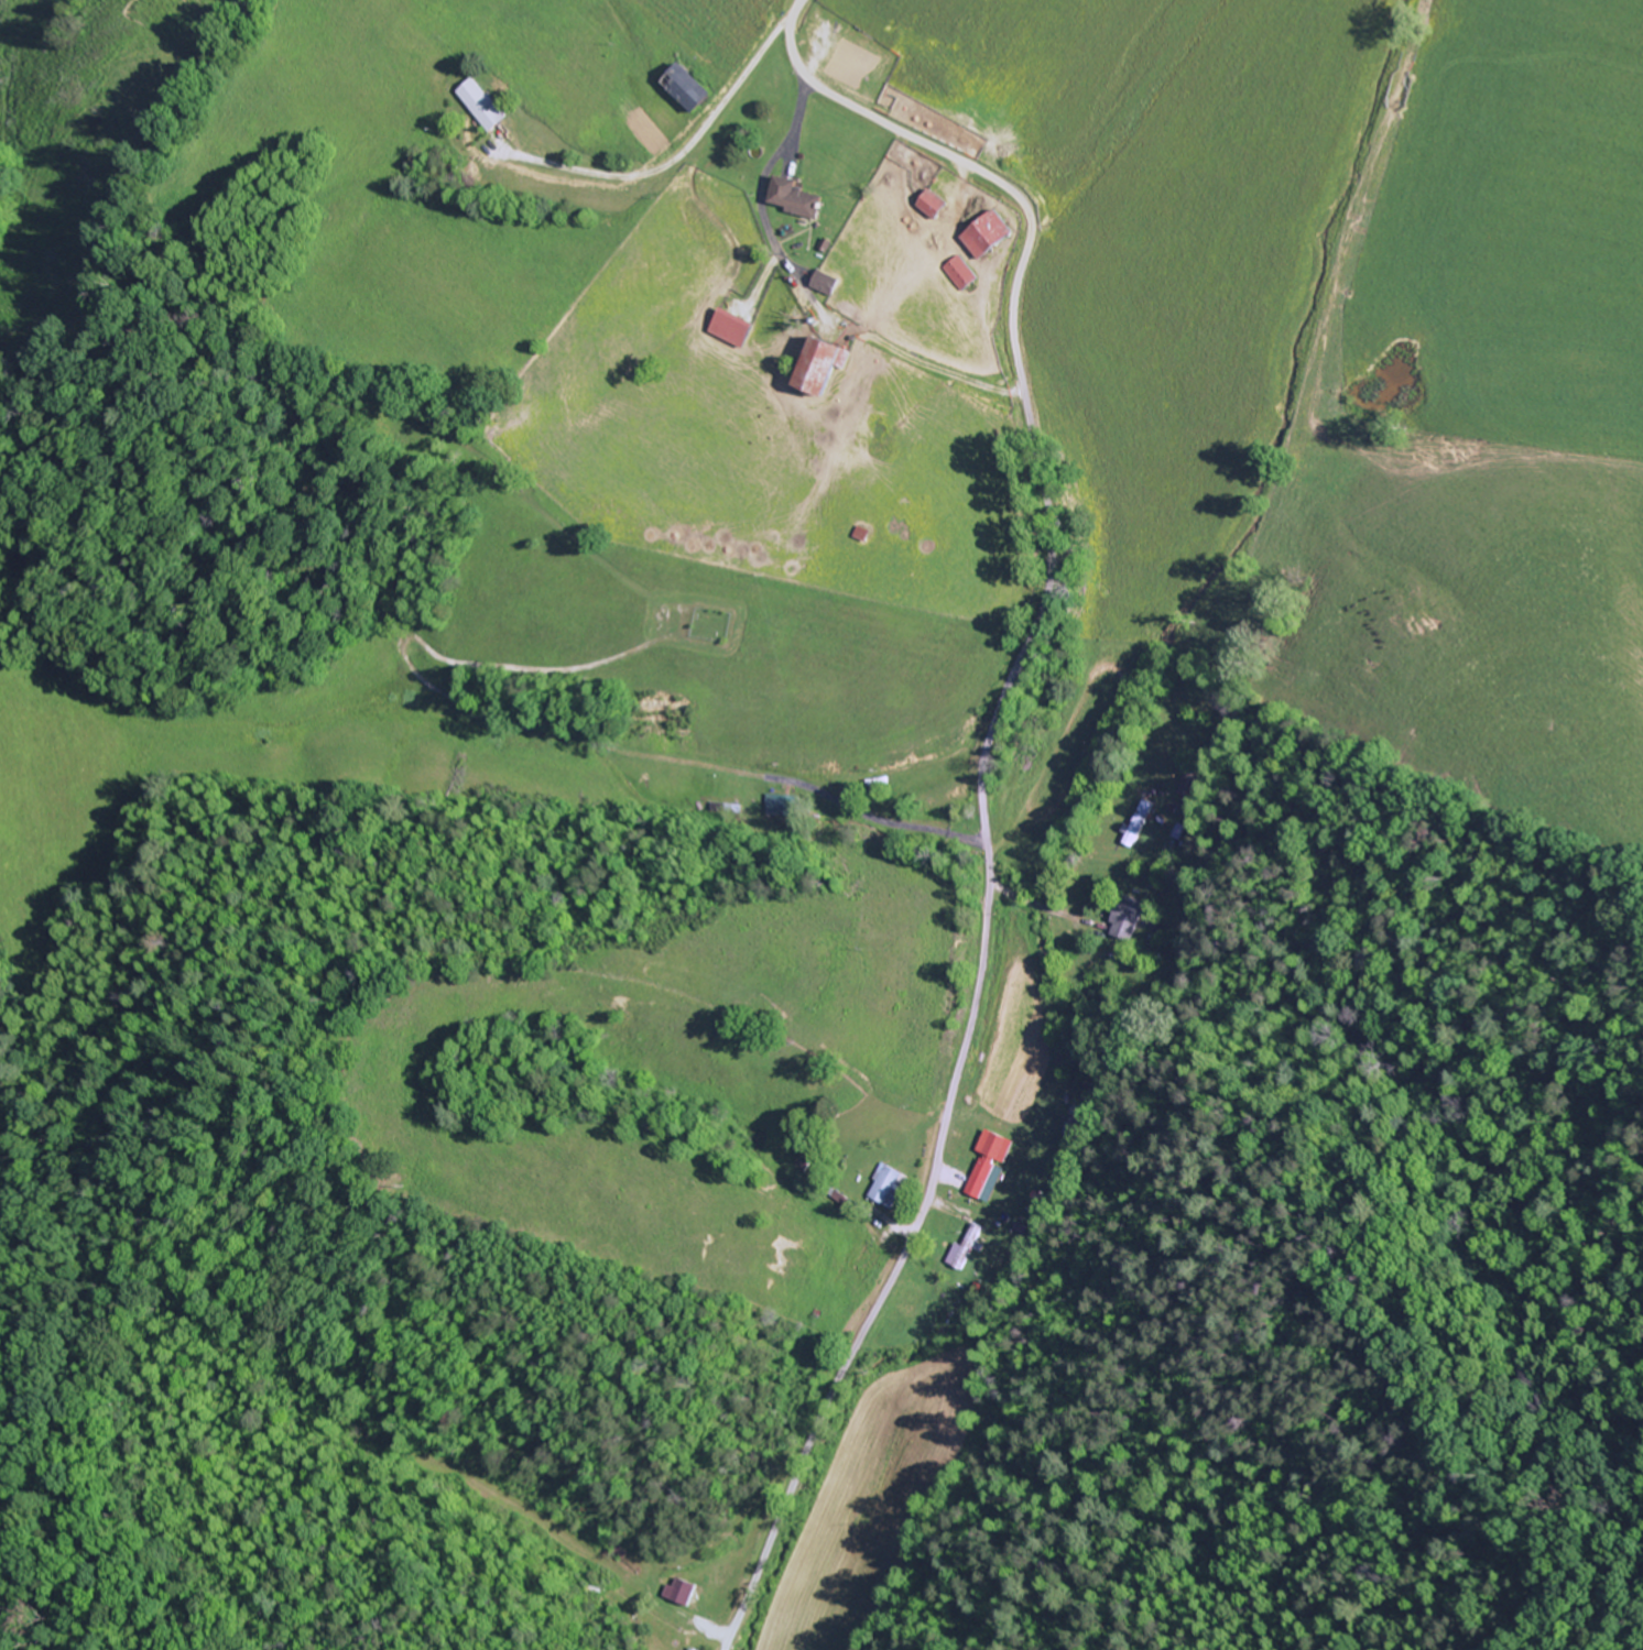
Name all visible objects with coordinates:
building: (485, 106)
building: (797, 199)
building: (934, 206)
building: (989, 236)
building: (960, 275)
building: (828, 284)
building: (732, 329)
building: (821, 368)
road: (981, 771)
building: (784, 807)
building: (1135, 826)
building: (1128, 919)
building: (990, 1167)
building: (889, 1187)
building: (964, 1252)
building: (683, 1593)
building: (693, 1649)

